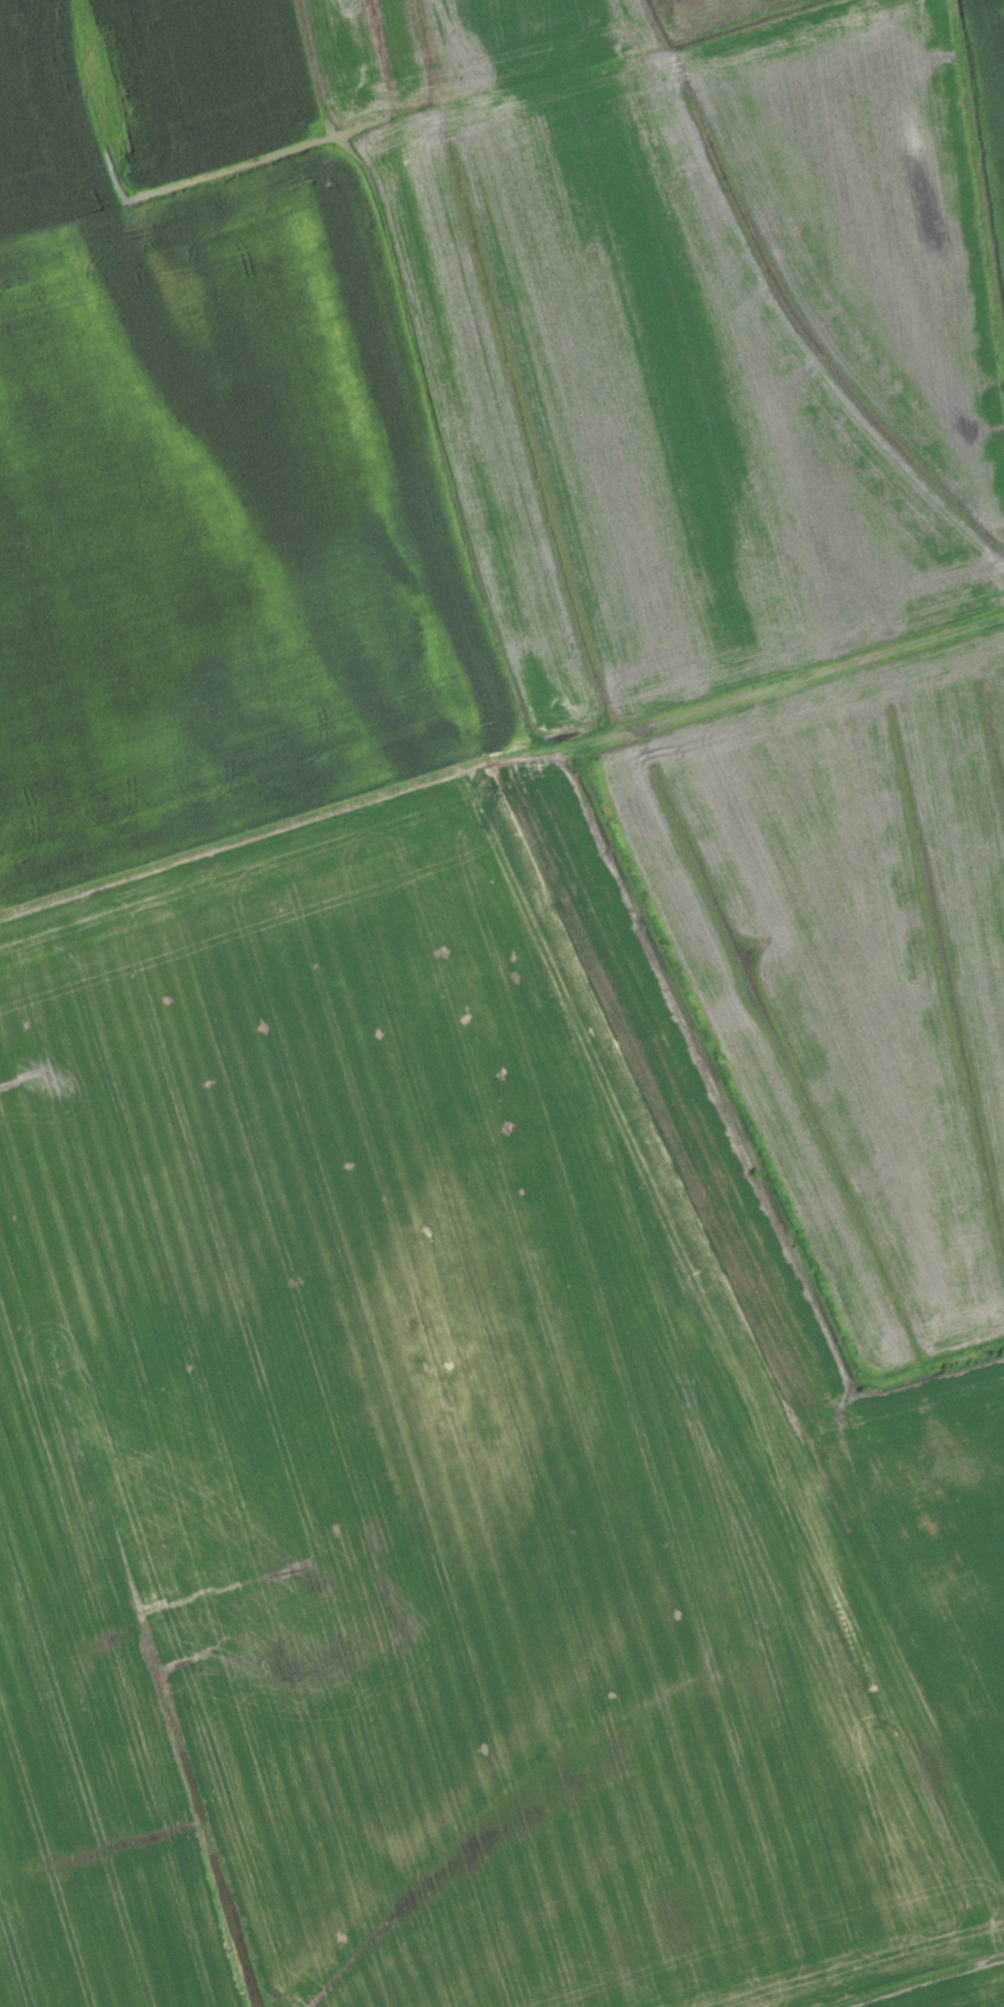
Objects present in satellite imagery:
road: (500, 756)
road: (913, 1978)

